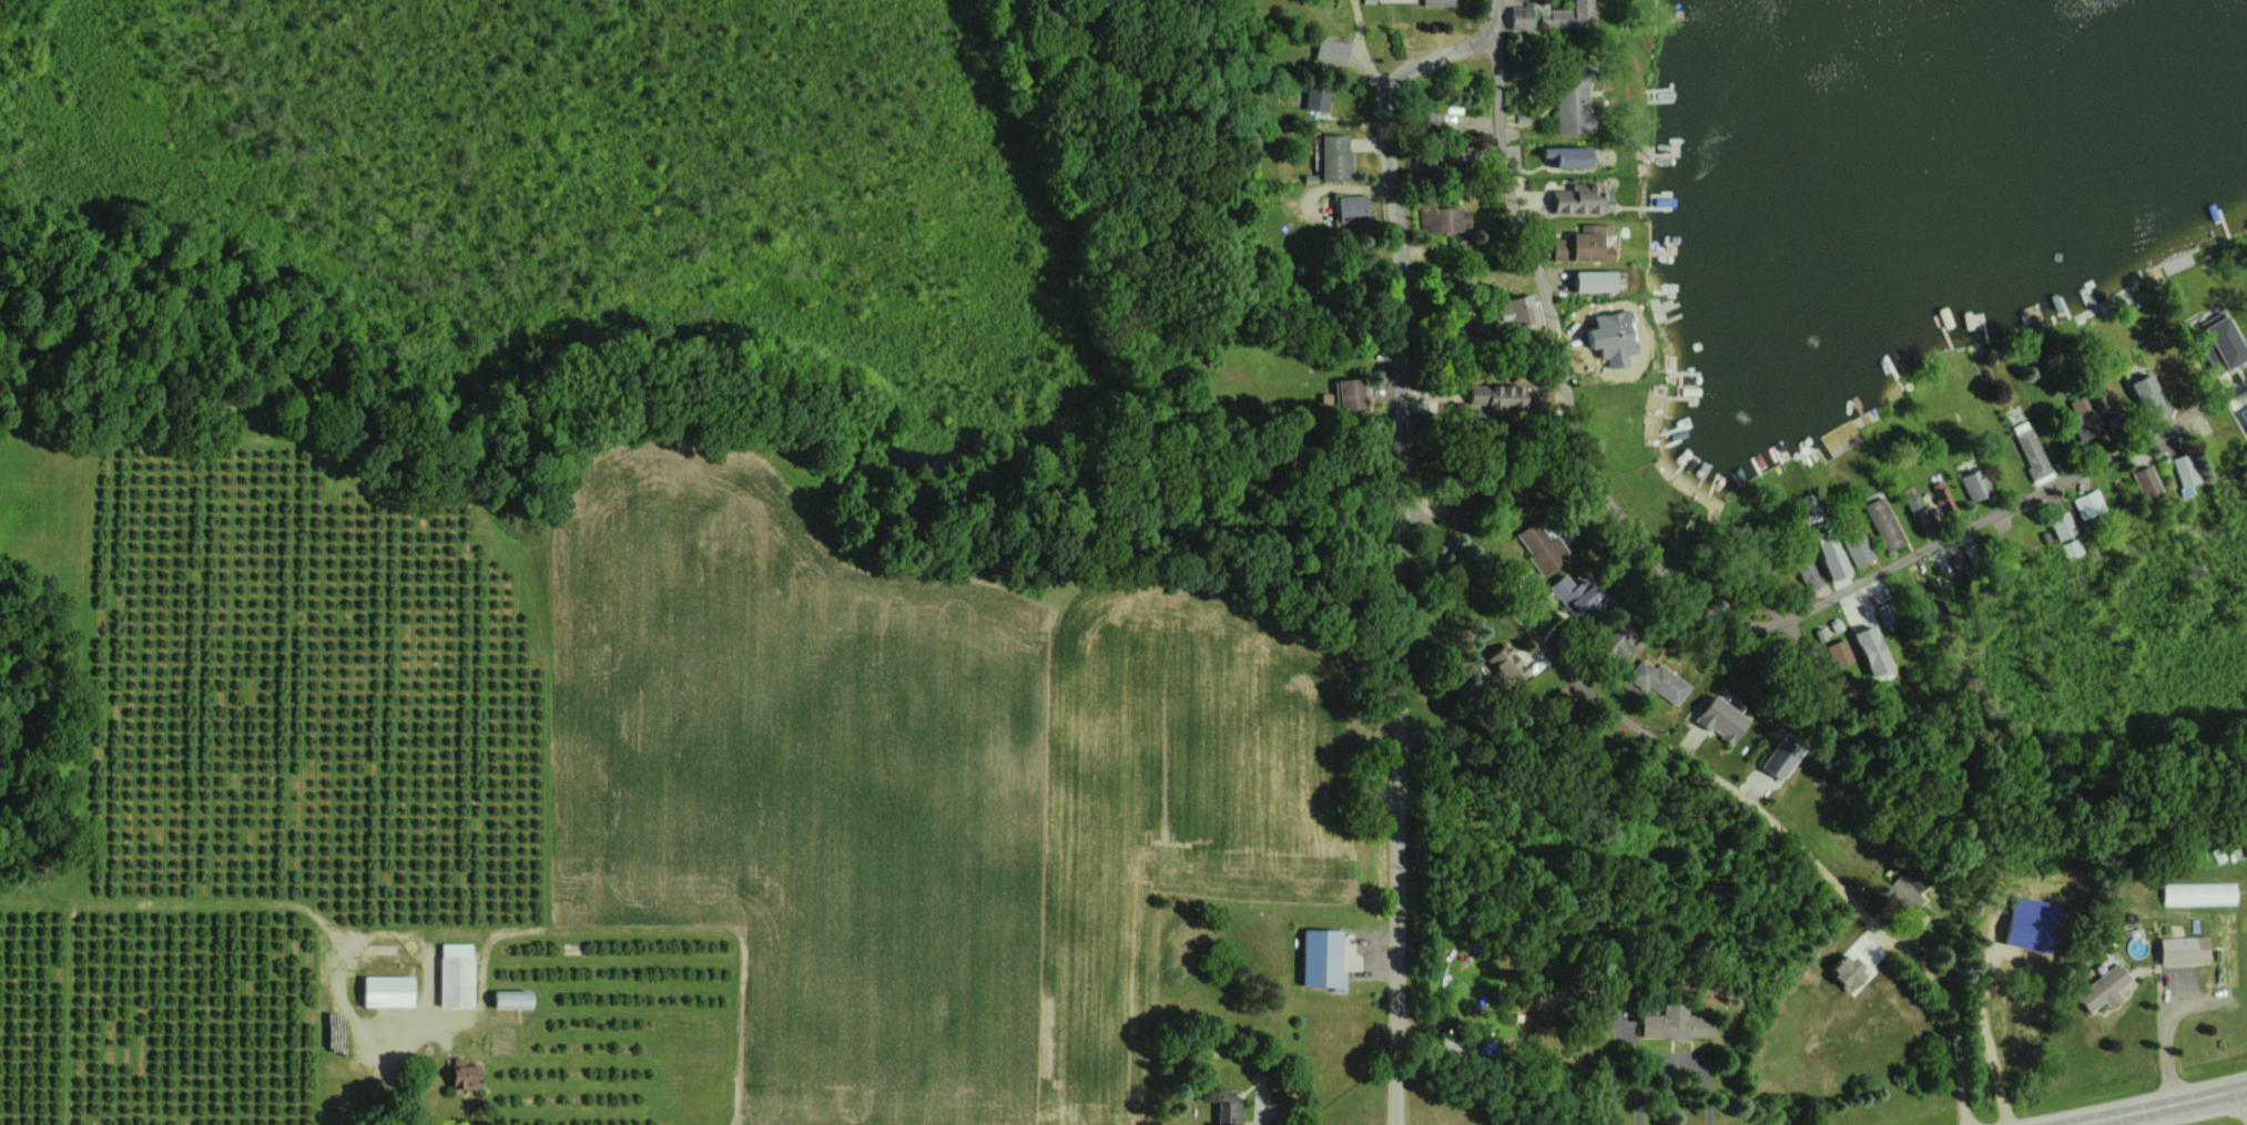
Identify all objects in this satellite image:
building: (1437, 2)
road: (1494, 14)
building: (1572, 16)
building: (1519, 18)
building: (1331, 51)
building: (1315, 99)
building: (1574, 100)
building: (1568, 156)
building: (1334, 157)
building: (1579, 198)
building: (1352, 209)
building: (1442, 219)
building: (1585, 244)
building: (1596, 280)
building: (1516, 310)
building: (1613, 337)
building: (2223, 341)
building: (1497, 396)
building: (2149, 397)
building: (2244, 415)
building: (2086, 419)
building: (2030, 451)
building: (2184, 473)
building: (2145, 481)
building: (1974, 485)
building: (1941, 497)
building: (1912, 502)
building: (2086, 504)
building: (1924, 520)
building: (1883, 523)
building: (2061, 525)
road: (1402, 543)
building: (1539, 548)
building: (2068, 549)
building: (1858, 550)
building: (1833, 559)
building: (1574, 593)
road: (1695, 603)
building: (1615, 645)
building: (1873, 651)
building: (1839, 653)
building: (1509, 664)
building: (1657, 681)
building: (1720, 720)
building: (1780, 756)
road: (1729, 786)
building: (1905, 890)
building: (2199, 893)
building: (2033, 925)
building: (1855, 948)
building: (2184, 950)
building: (1321, 959)
building: (1854, 969)
building: (455, 975)
building: (2103, 990)
building: (387, 991)
building: (512, 1000)
building: (1675, 1024)
road: (2163, 1053)
road: (1669, 1054)
road: (393, 1074)
building: (464, 1074)
road: (2154, 1106)
building: (1229, 1112)

